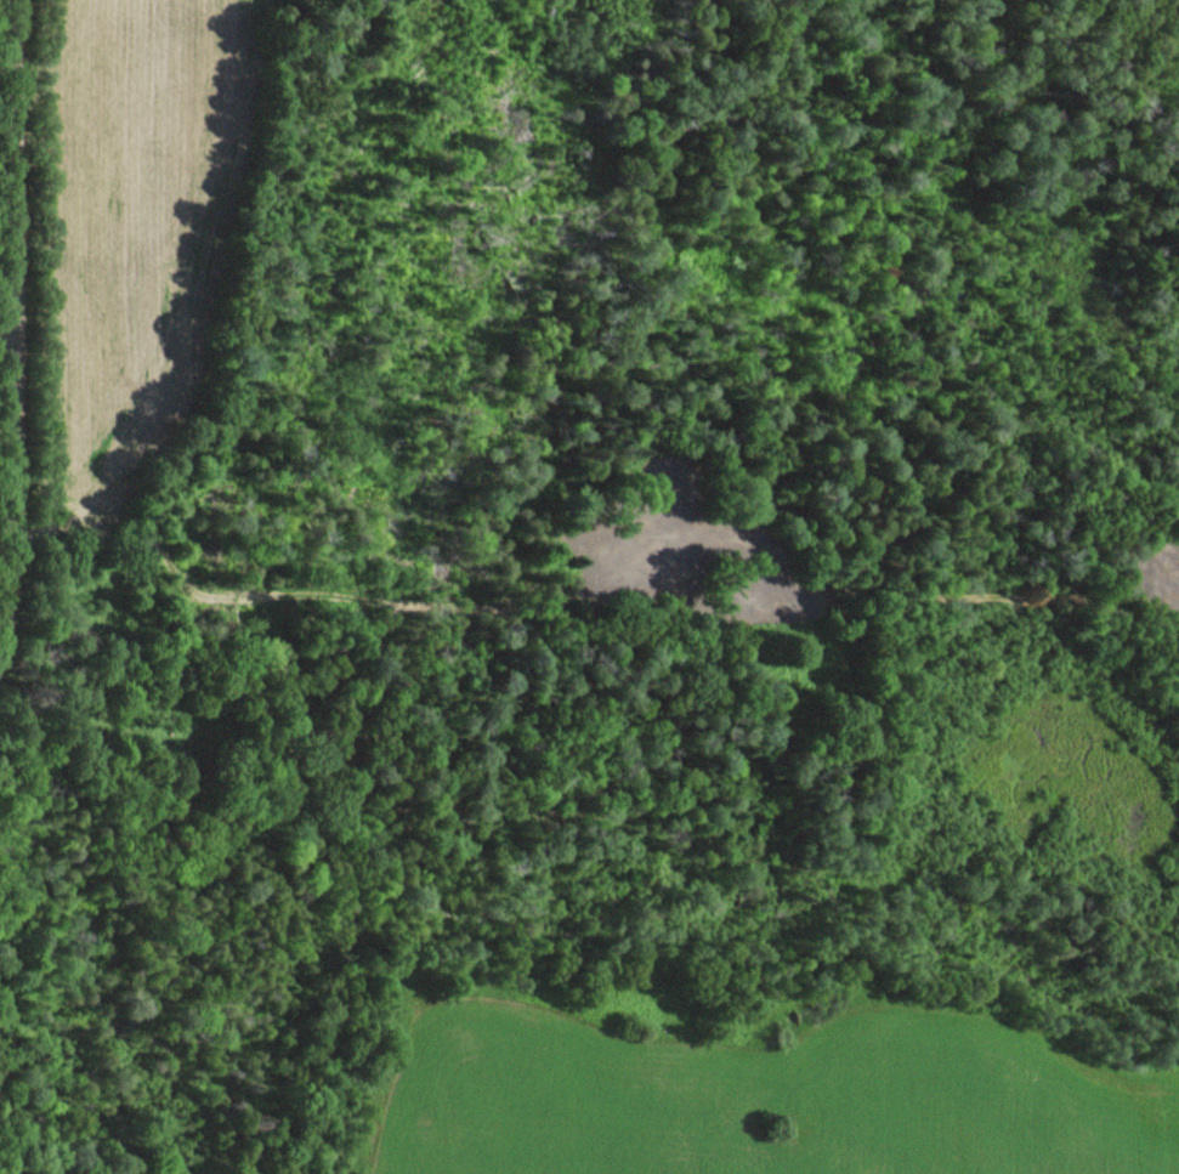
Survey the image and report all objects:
road: (27, 336)

